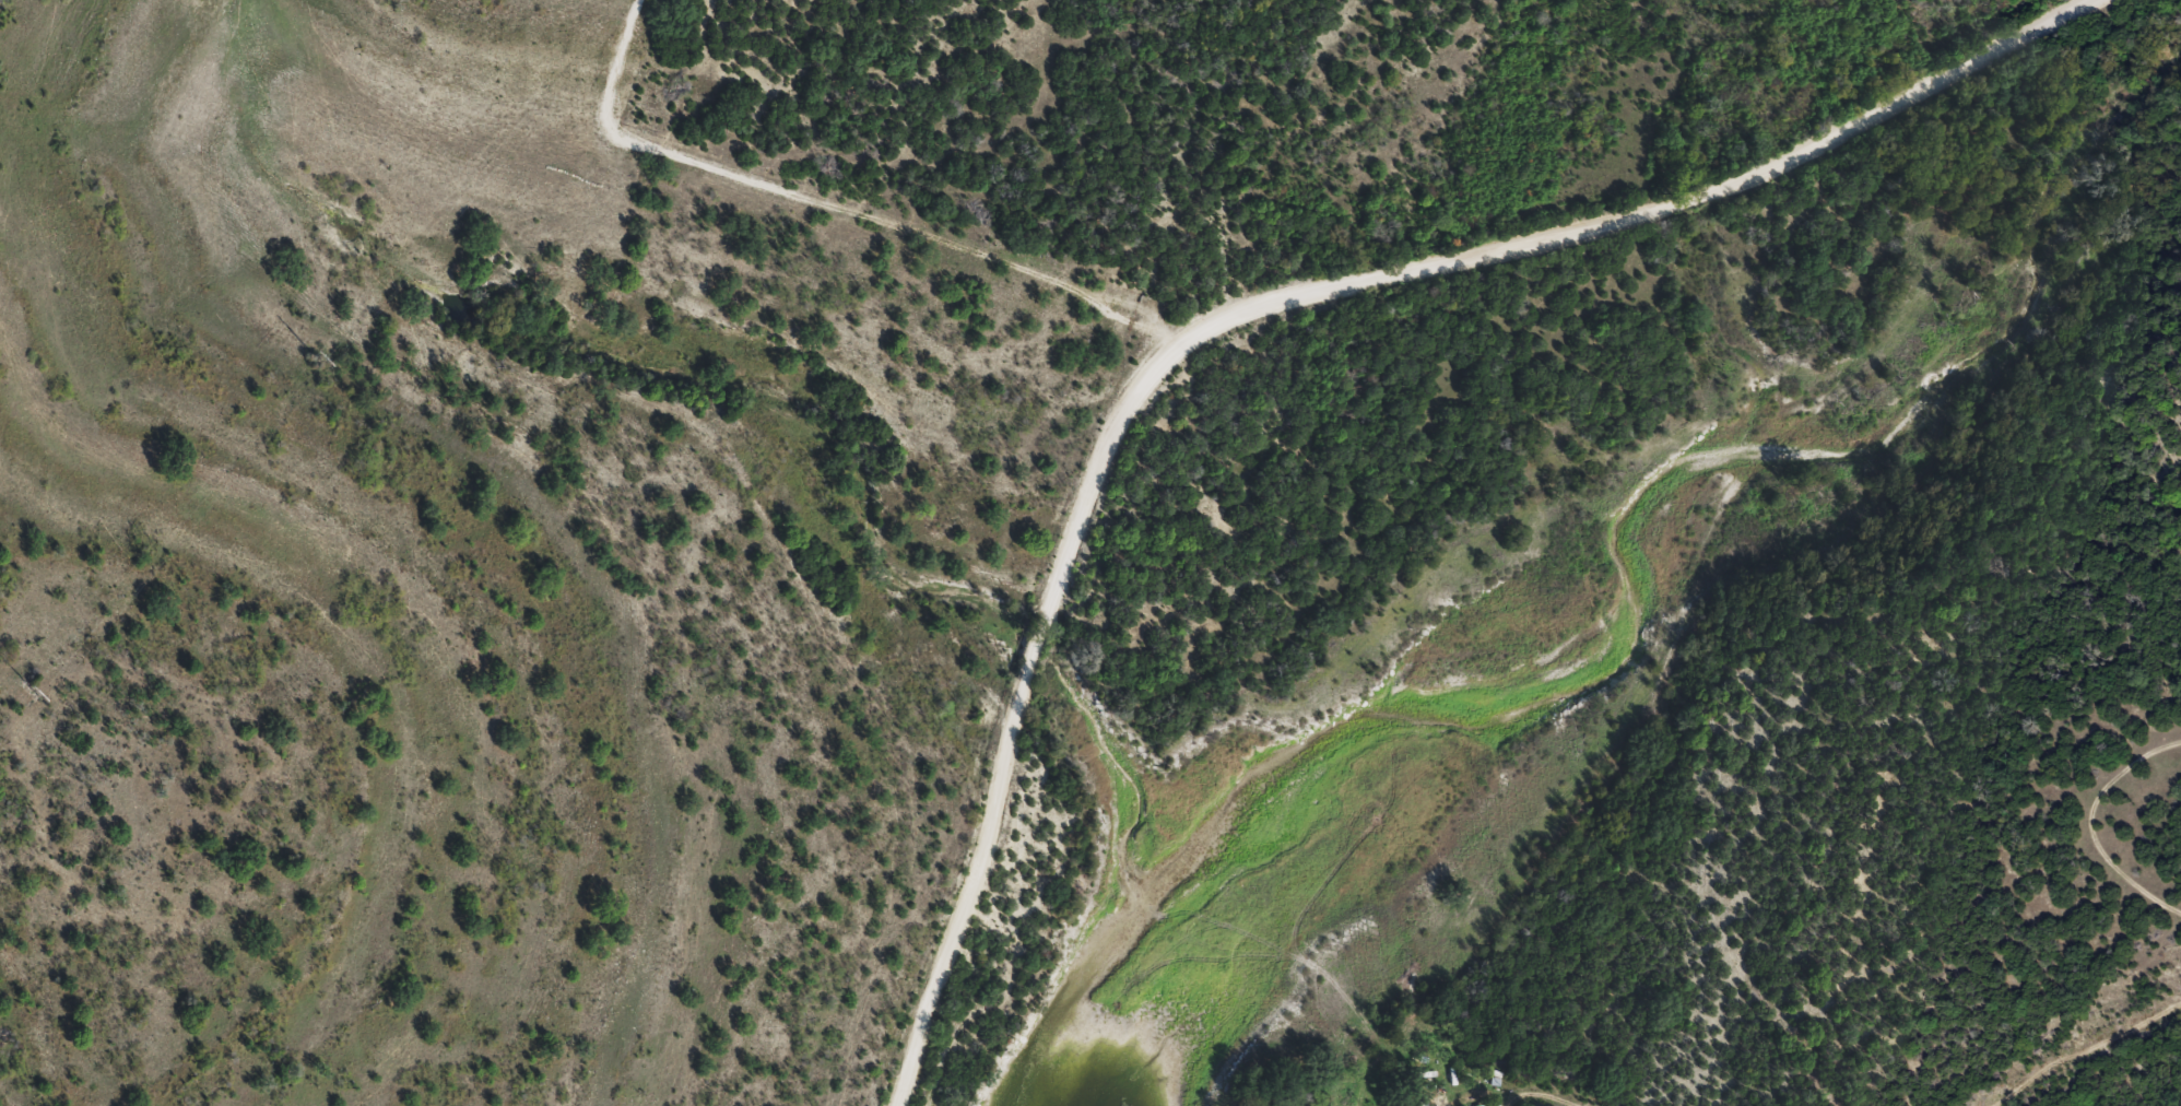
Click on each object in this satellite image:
road: (9, 13)
road: (1247, 317)
power tower: (313, 361)
power tower: (33, 694)

